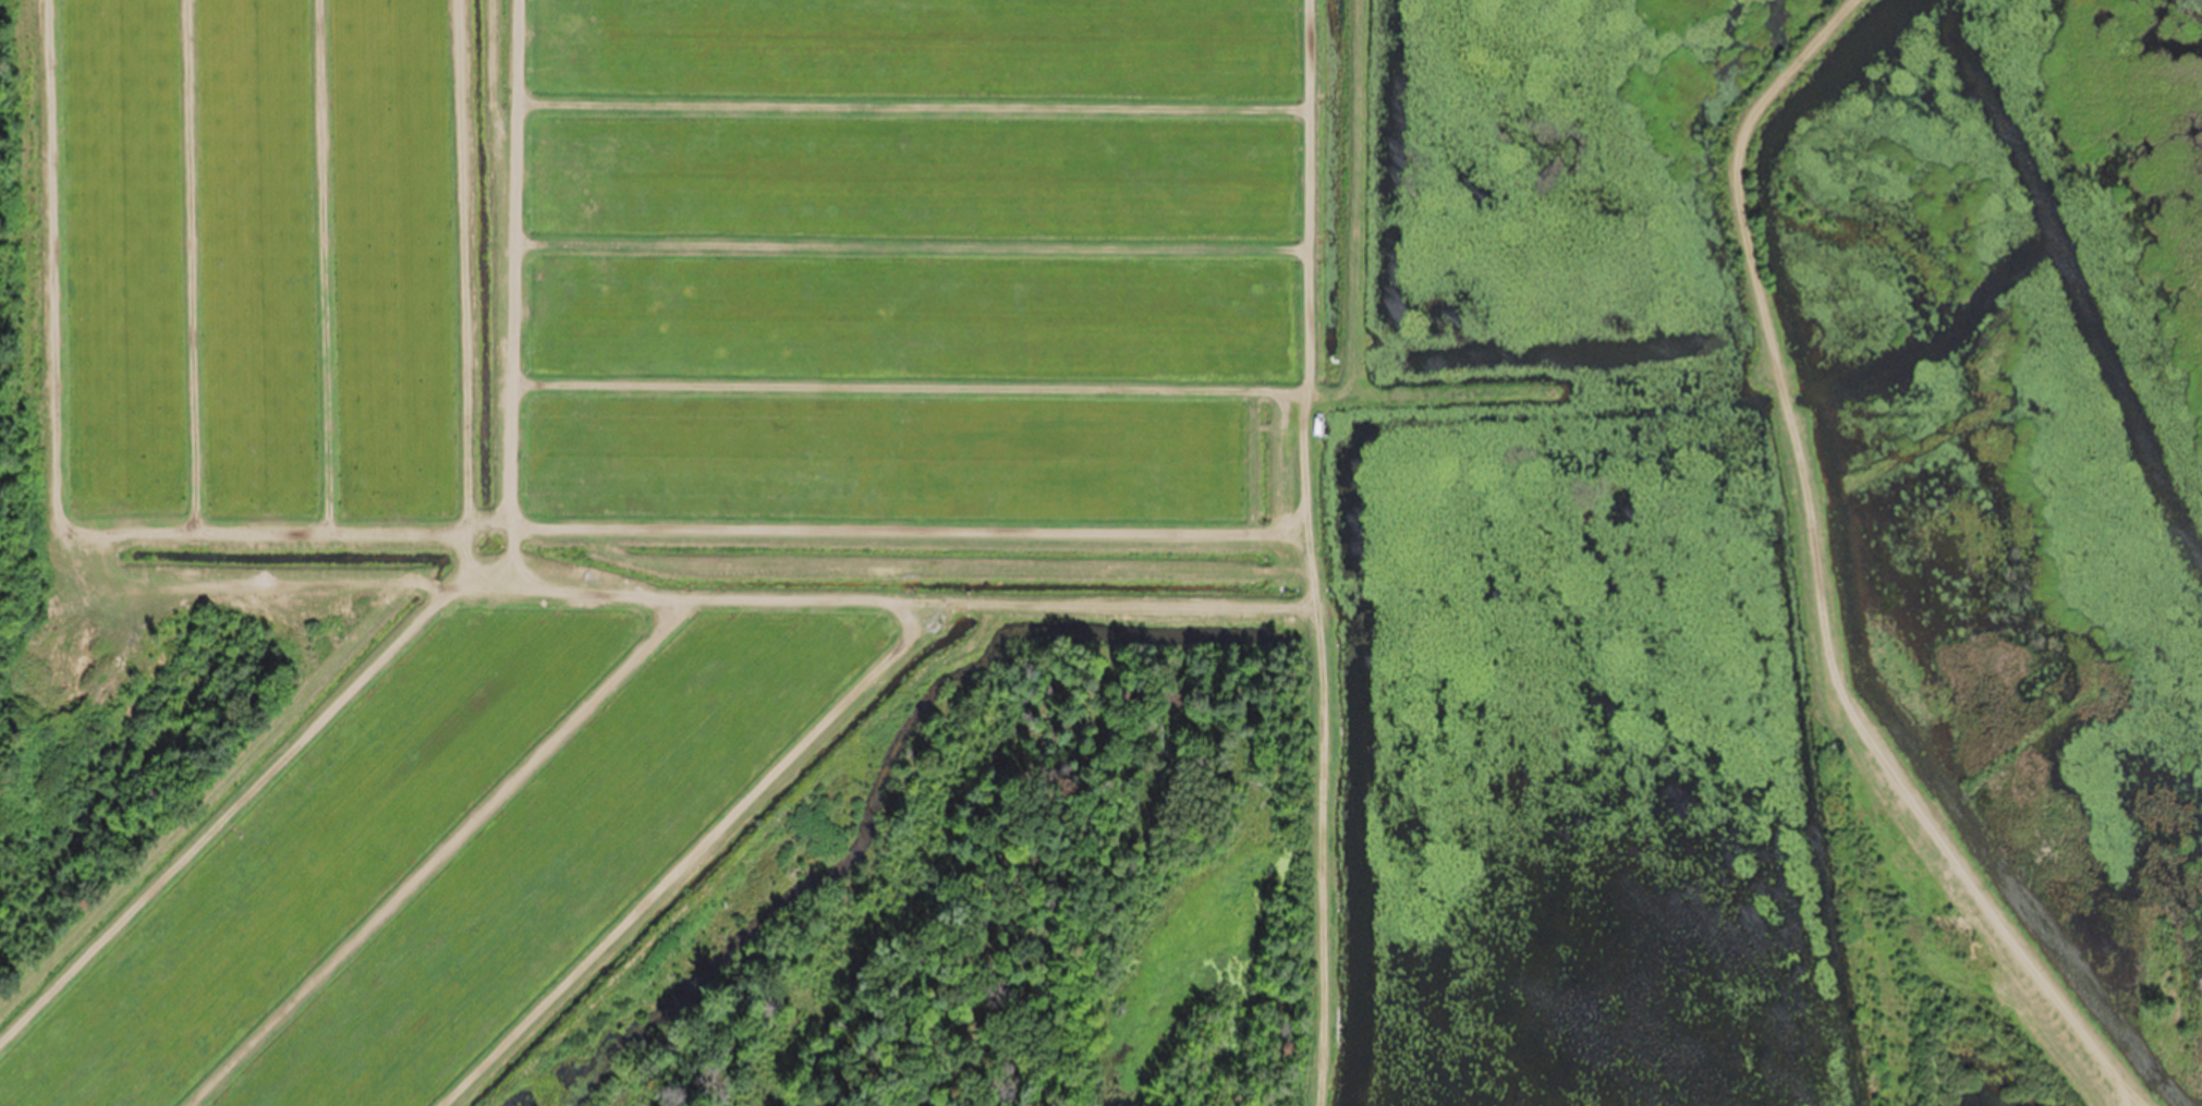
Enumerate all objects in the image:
road: (1541, 393)
crop: (624, 442)
road: (1805, 587)

